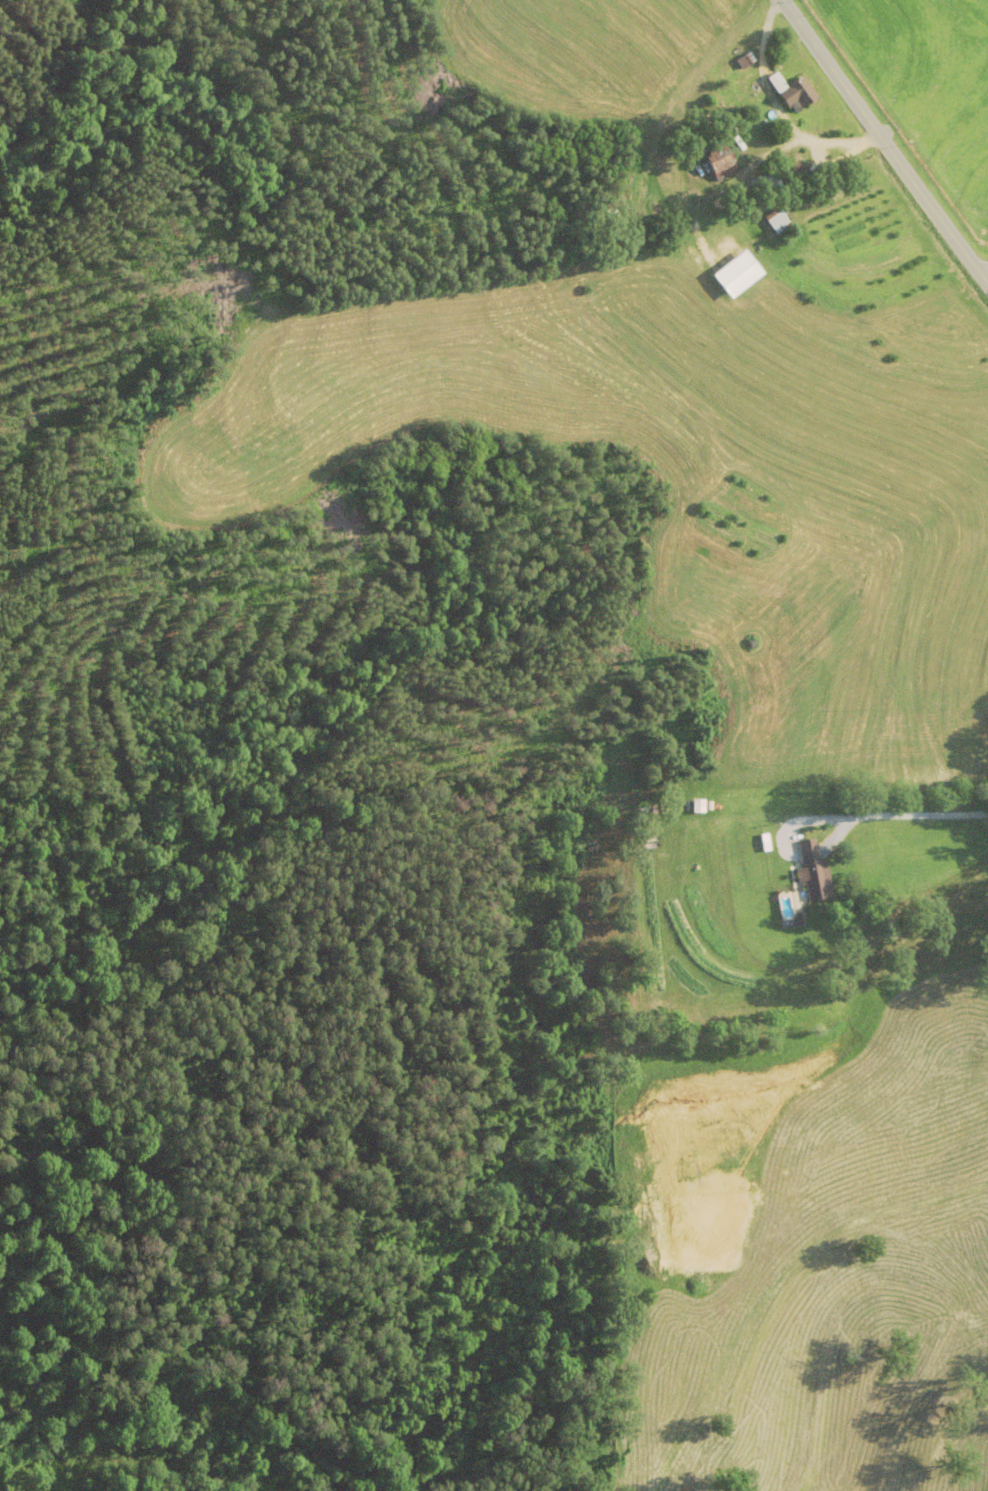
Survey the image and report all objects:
building: (793, 92)
road: (883, 142)
building: (721, 162)
building: (764, 184)
building: (778, 223)
road: (986, 280)
road: (874, 819)
building: (814, 874)
building: (644, 1447)

